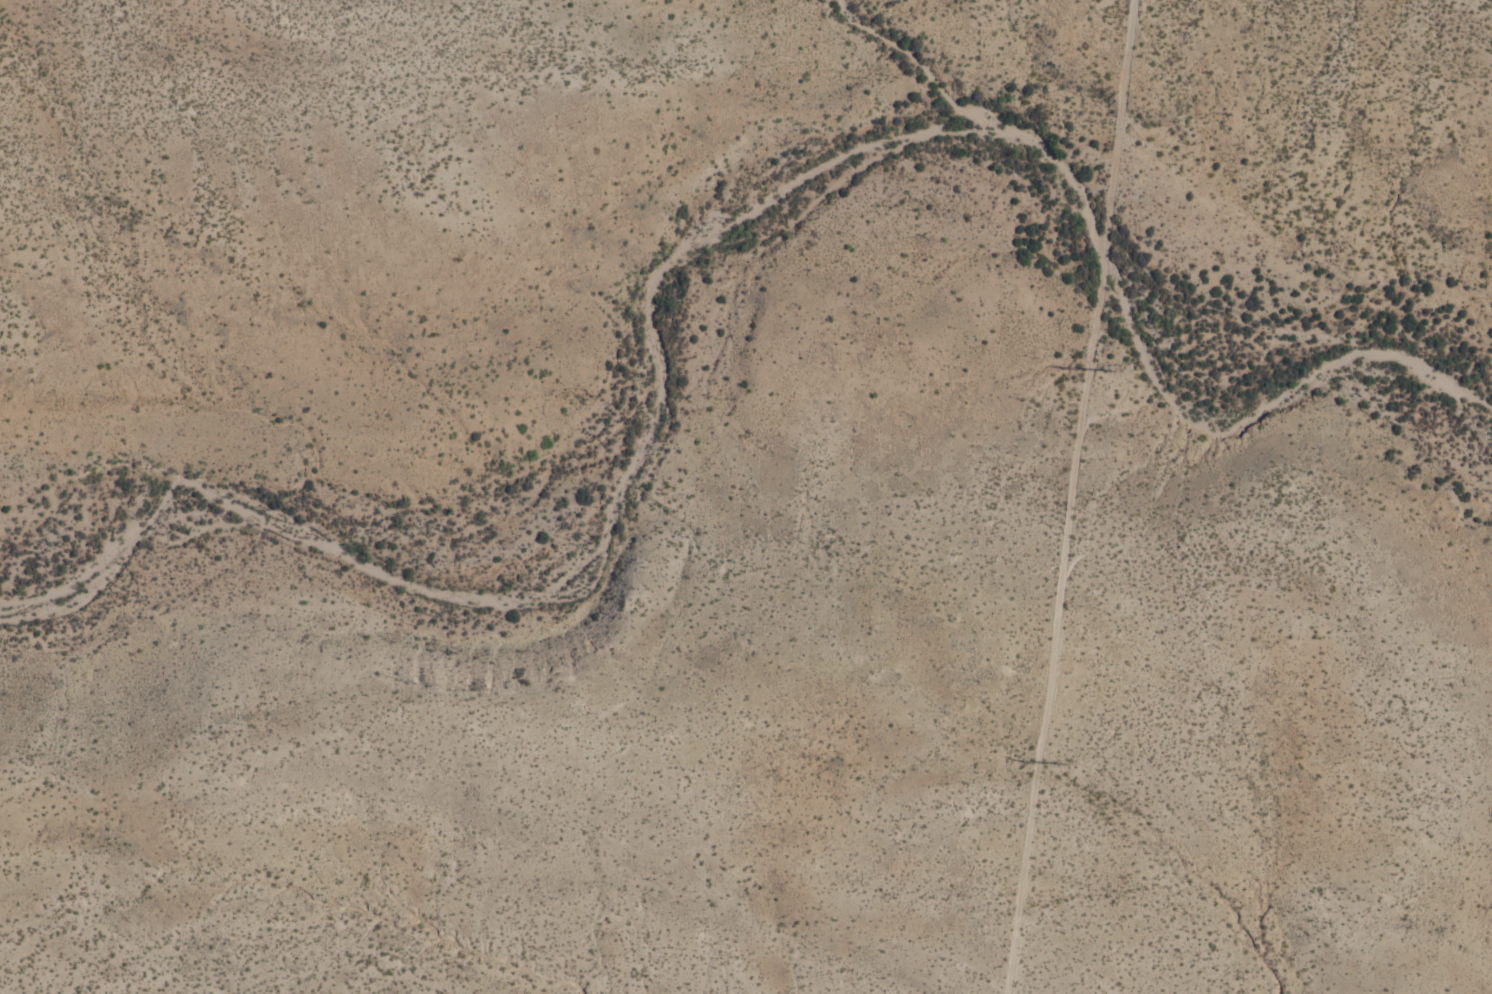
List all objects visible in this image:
power tower: (1108, 368)
road: (1066, 497)
power tower: (1058, 759)

